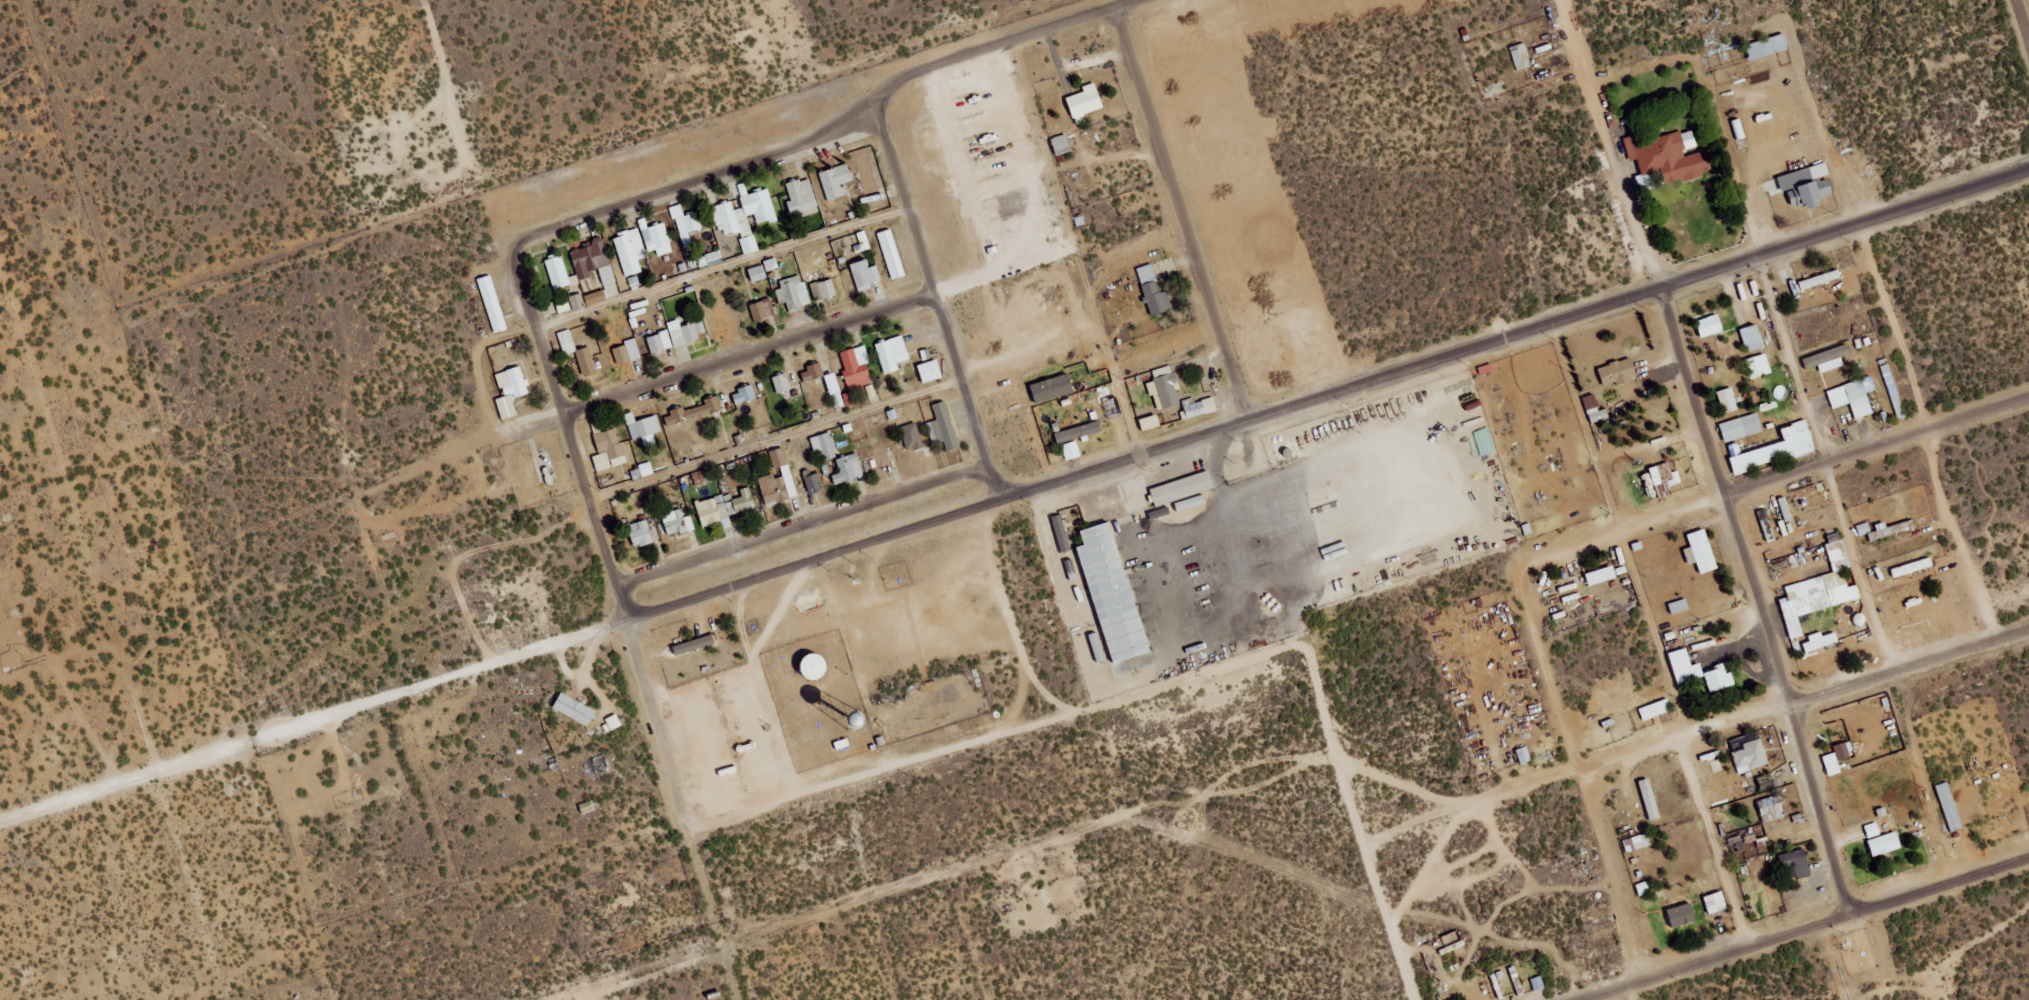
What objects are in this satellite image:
road: (2020, 26)
building: (1769, 46)
building: (1521, 56)
building: (1086, 102)
building: (1738, 129)
road: (840, 138)
building: (1063, 144)
road: (1609, 147)
building: (1669, 157)
building: (836, 181)
building: (1808, 185)
building: (802, 198)
road: (904, 199)
road: (973, 204)
building: (745, 213)
building: (689, 227)
building: (657, 238)
building: (864, 240)
building: (749, 245)
building: (631, 251)
building: (892, 254)
road: (1059, 257)
building: (710, 259)
building: (597, 268)
road: (720, 269)
building: (764, 269)
building: (558, 272)
building: (867, 274)
building: (1821, 279)
building: (824, 289)
building: (1153, 291)
building: (793, 293)
building: (578, 301)
building: (493, 304)
building: (564, 305)
building: (762, 309)
building: (1711, 325)
building: (687, 331)
building: (1753, 337)
building: (568, 342)
building: (660, 342)
building: (628, 352)
building: (892, 353)
building: (1827, 358)
building: (587, 361)
road: (721, 363)
building: (1760, 365)
building: (856, 368)
road: (1794, 370)
building: (932, 371)
building: (813, 372)
building: (1619, 372)
building: (782, 383)
building: (1054, 388)
building: (1165, 388)
building: (512, 390)
building: (837, 392)
building: (745, 395)
building: (1854, 396)
road: (968, 400)
building: (1728, 400)
building: (1199, 407)
building: (1595, 409)
building: (695, 411)
building: (1152, 422)
building: (944, 424)
building: (1742, 427)
building: (644, 428)
building: (1076, 433)
building: (910, 434)
road: (1927, 435)
road: (775, 441)
building: (1484, 441)
building: (825, 446)
building: (1779, 448)
building: (609, 450)
building: (1072, 450)
road: (1145, 459)
building: (846, 467)
building: (643, 471)
building: (1664, 480)
building: (814, 483)
building: (1651, 484)
building: (772, 487)
building: (1183, 488)
building: (743, 500)
road: (1268, 504)
building: (1785, 509)
building: (707, 510)
building: (673, 521)
road: (1667, 523)
building: (1864, 528)
building: (1885, 531)
building: (639, 532)
building: (1062, 533)
road: (805, 534)
road: (601, 545)
building: (1701, 548)
building: (1913, 567)
building: (1602, 575)
building: (1821, 588)
building: (1109, 592)
building: (1680, 606)
road: (1751, 606)
building: (713, 634)
road: (1652, 638)
building: (1820, 641)
building: (696, 644)
building: (1142, 661)
building: (1686, 666)
building: (809, 667)
storage tank: (809, 667)
road: (1905, 669)
building: (1720, 679)
road: (765, 692)
building: (573, 708)
building: (1656, 709)
water tower: (852, 718)
road: (1050, 719)
building: (615, 722)
building: (1844, 750)
building: (1752, 756)
road: (1574, 777)
road: (1580, 778)
building: (1766, 781)
road: (131, 788)
building: (1651, 799)
building: (1950, 806)
building: (1773, 808)
road: (743, 812)
building: (1873, 830)
building: (1639, 842)
building: (1885, 844)
building: (1796, 863)
building: (1644, 888)
building: (1717, 902)
building: (1683, 915)
road: (719, 916)
road: (1810, 929)
building: (1538, 984)

